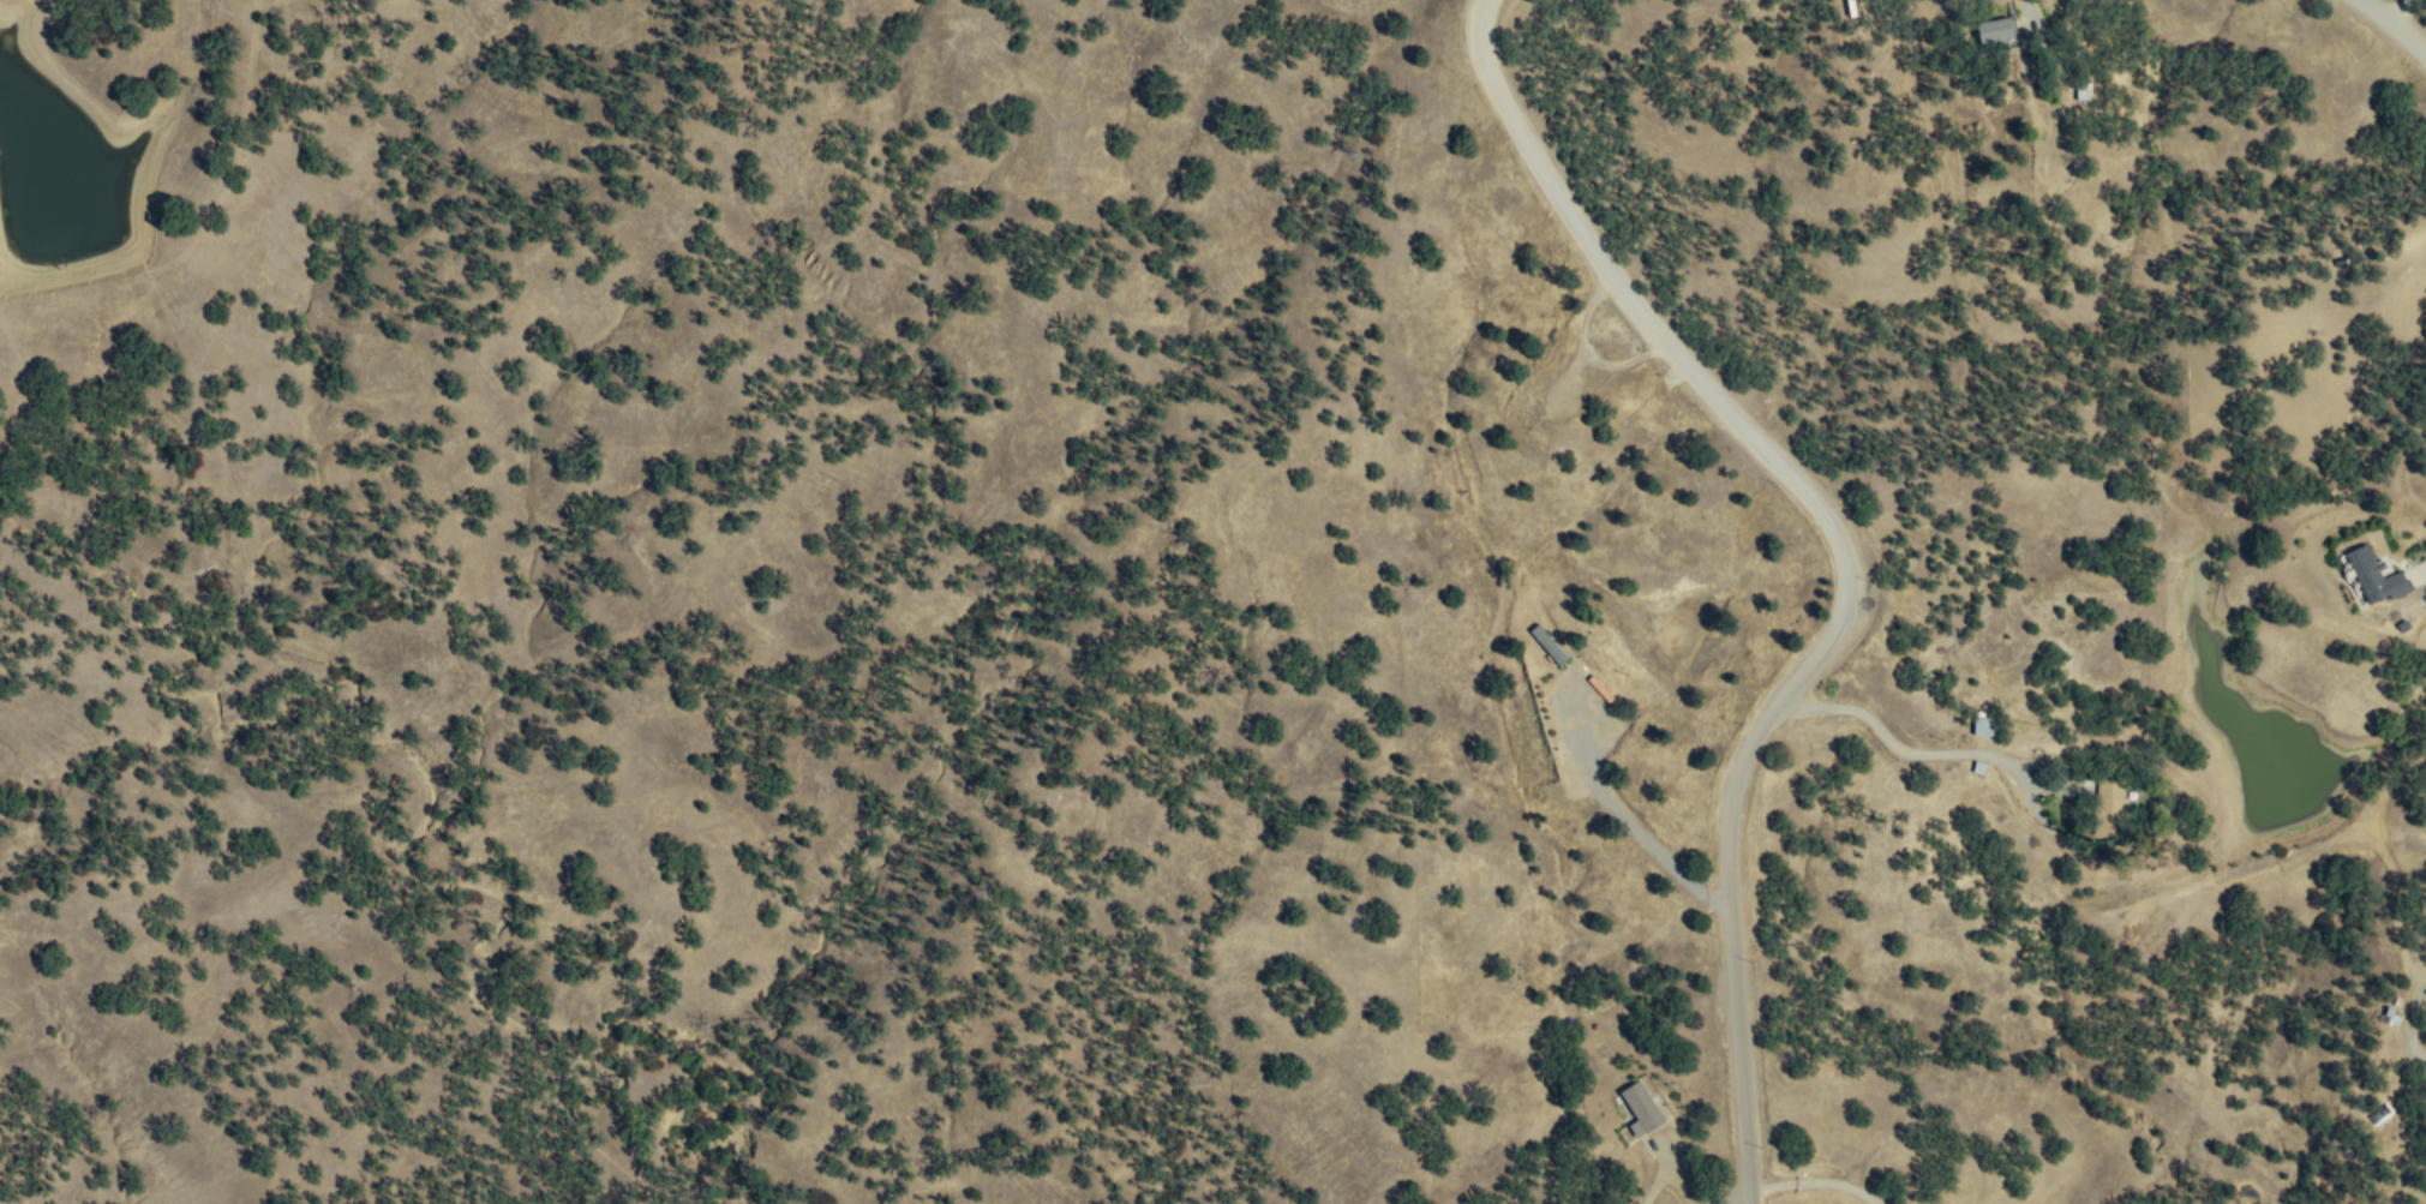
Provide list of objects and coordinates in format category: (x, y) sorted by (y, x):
road: (2397, 23)
building: (1993, 30)
building: (2083, 91)
dam: (79, 278)
road: (1845, 559)
building: (2374, 575)
building: (1547, 643)
building: (1982, 723)
building: (2109, 809)
dam: (2281, 843)
road: (2409, 1023)
building: (1641, 1108)

